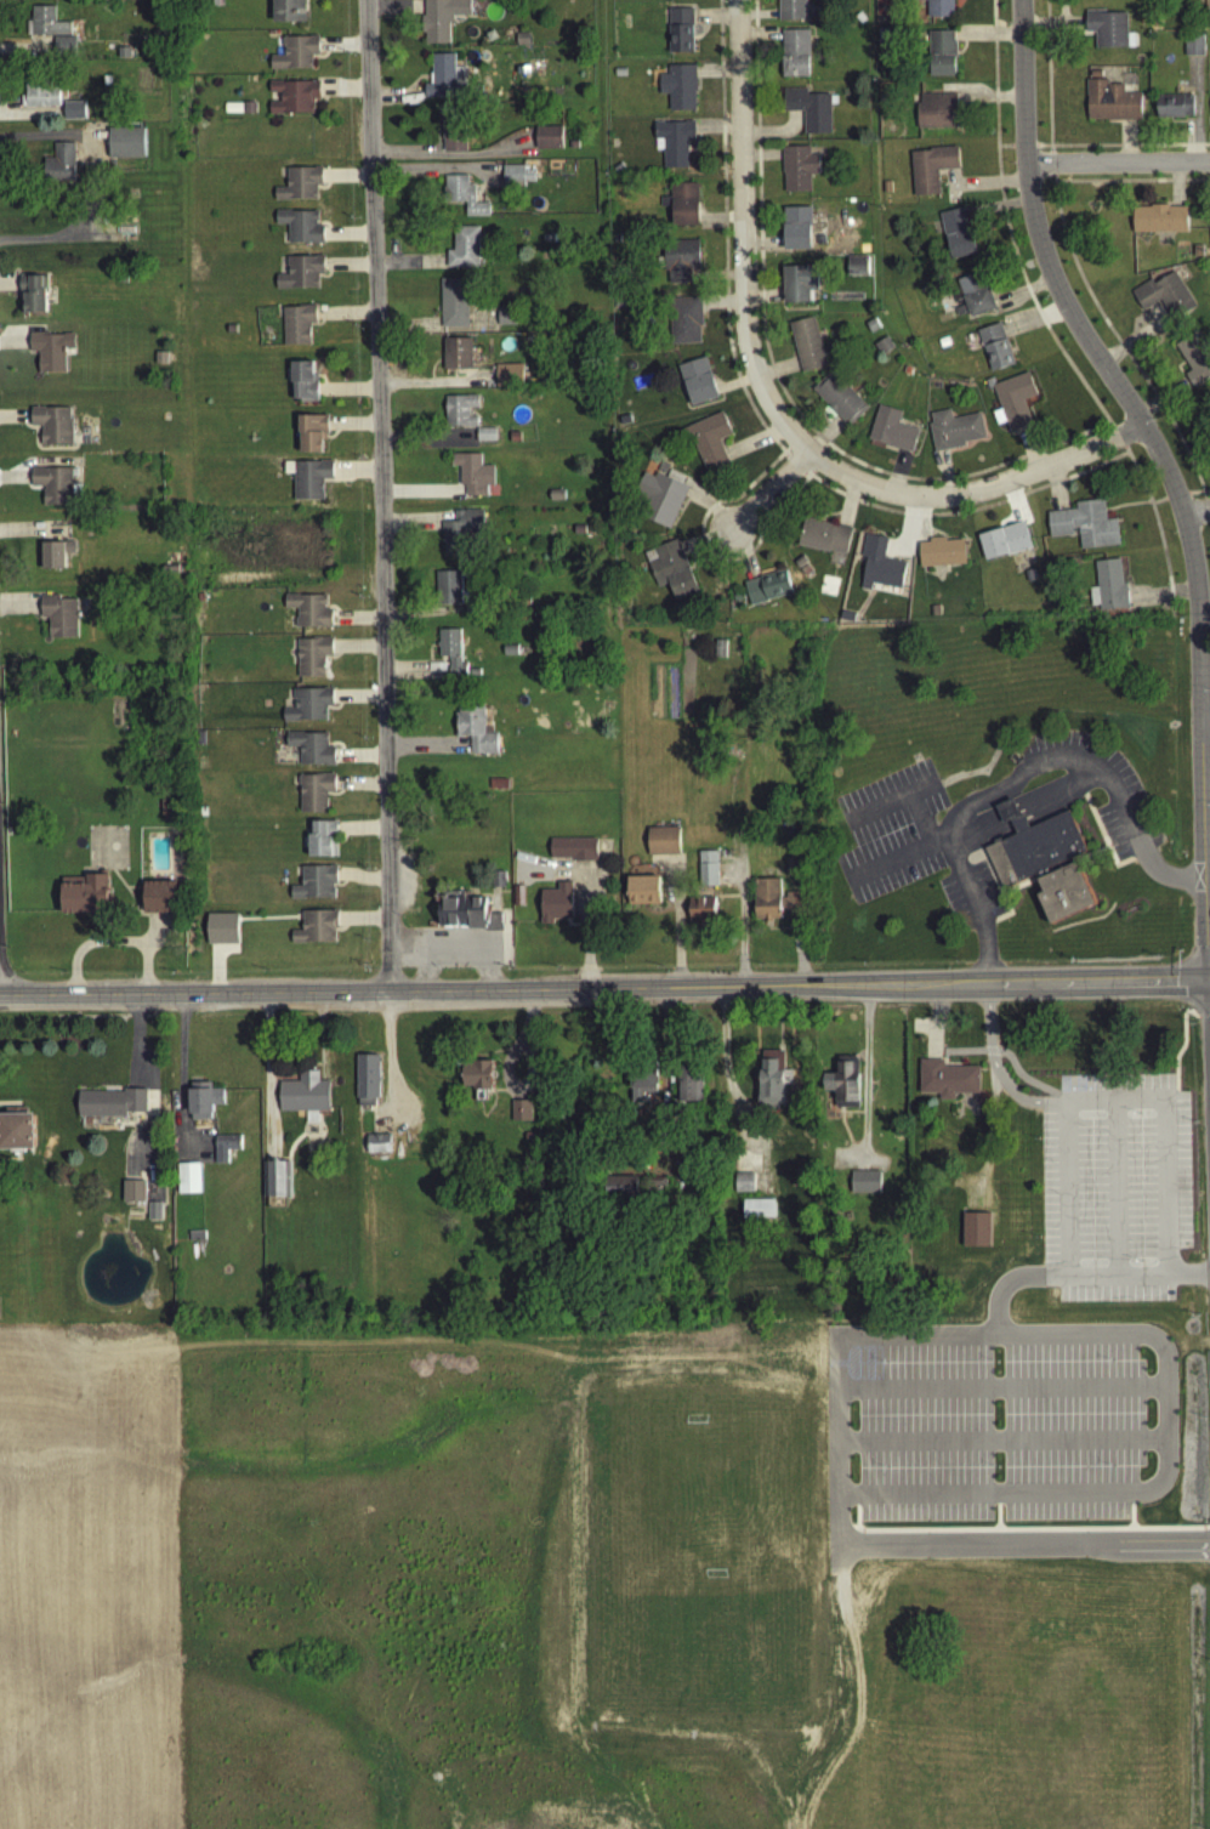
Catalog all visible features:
building: (678, 0)
building: (215, 6)
road: (305, 7)
building: (937, 10)
road: (393, 12)
building: (791, 12)
building: (288, 13)
building: (516, 15)
road: (759, 19)
road: (472, 21)
road: (715, 21)
road: (464, 22)
building: (52, 23)
road: (401, 23)
road: (421, 23)
building: (439, 23)
building: (858, 23)
road: (411, 29)
road: (1052, 29)
building: (1106, 33)
building: (680, 35)
road: (760, 39)
building: (881, 40)
road: (987, 41)
building: (521, 45)
road: (342, 49)
building: (63, 50)
building: (1192, 50)
building: (295, 58)
building: (794, 58)
building: (941, 58)
road: (323, 61)
road: (716, 76)
building: (618, 78)
road: (1046, 79)
building: (1093, 79)
building: (443, 84)
road: (414, 86)
building: (42, 92)
building: (678, 92)
road: (342, 95)
road: (396, 101)
building: (292, 102)
road: (988, 102)
road: (322, 104)
road: (1195, 104)
building: (76, 107)
building: (1109, 107)
building: (1172, 110)
building: (232, 113)
building: (249, 113)
building: (808, 114)
building: (73, 115)
building: (936, 115)
road: (716, 132)
building: (451, 134)
building: (129, 138)
road: (773, 140)
building: (547, 142)
road: (1187, 143)
road: (436, 144)
road: (1124, 146)
building: (674, 147)
building: (572, 149)
road: (1004, 150)
road: (1022, 150)
road: (1041, 150)
road: (1129, 150)
street lamp: (1084, 157)
building: (63, 159)
road: (453, 160)
road: (760, 160)
road: (1051, 167)
road: (1115, 167)
road: (436, 172)
building: (796, 174)
building: (931, 174)
road: (345, 181)
building: (516, 181)
road: (1130, 186)
building: (299, 188)
road: (981, 188)
road: (1175, 189)
building: (885, 192)
building: (461, 200)
building: (683, 209)
road: (998, 211)
road: (720, 223)
building: (1158, 225)
road: (1004, 227)
building: (300, 231)
road: (759, 231)
building: (796, 234)
road: (723, 235)
road: (346, 237)
road: (742, 238)
building: (956, 238)
building: (818, 245)
road: (762, 249)
building: (462, 255)
building: (1195, 256)
building: (678, 265)
road: (408, 267)
road: (347, 269)
building: (856, 272)
building: (300, 277)
road: (716, 282)
building: (797, 288)
building: (35, 290)
road: (1023, 295)
building: (975, 300)
road: (1086, 300)
road: (762, 301)
building: (1163, 301)
building: (453, 308)
road: (721, 308)
road: (343, 318)
building: (506, 322)
road: (1034, 323)
building: (681, 324)
building: (296, 330)
building: (871, 330)
road: (442, 335)
road: (1136, 340)
building: (51, 347)
building: (942, 347)
building: (805, 350)
building: (881, 351)
building: (994, 352)
building: (456, 358)
building: (1194, 363)
road: (774, 373)
building: (507, 380)
road: (434, 386)
building: (697, 386)
building: (302, 387)
road: (734, 388)
road: (346, 394)
building: (837, 403)
road: (1163, 403)
building: (1013, 404)
building: (458, 415)
road: (1136, 416)
building: (56, 420)
road: (351, 428)
building: (891, 434)
building: (953, 434)
building: (311, 437)
building: (484, 439)
road: (820, 442)
road: (426, 443)
building: (513, 443)
road: (1117, 443)
building: (706, 445)
road: (752, 445)
road: (1181, 451)
road: (1029, 453)
road: (828, 455)
road: (376, 460)
road: (783, 461)
road: (818, 467)
road: (793, 472)
road: (353, 476)
road: (896, 476)
building: (471, 478)
road: (945, 478)
road: (809, 479)
road: (966, 481)
road: (1135, 481)
building: (57, 482)
building: (308, 484)
road: (1055, 492)
road: (975, 496)
road: (420, 498)
road: (766, 498)
road: (1205, 498)
road: (1197, 499)
building: (556, 500)
road: (1175, 501)
road: (693, 502)
building: (657, 504)
road: (700, 504)
road: (1012, 506)
road: (846, 509)
road: (1125, 511)
road: (964, 517)
road: (1197, 517)
road: (1206, 517)
road: (921, 526)
road: (415, 527)
building: (1083, 530)
building: (578, 534)
road: (904, 535)
building: (462, 539)
building: (823, 541)
road: (704, 544)
building: (1004, 546)
road: (1159, 546)
building: (57, 550)
road: (709, 552)
building: (939, 557)
road: (742, 558)
building: (799, 566)
building: (879, 569)
building: (671, 575)
building: (1109, 591)
building: (766, 592)
building: (447, 593)
road: (1161, 601)
building: (737, 602)
building: (198, 603)
building: (62, 610)
building: (308, 615)
building: (472, 615)
road: (421, 617)
road: (354, 623)
road: (356, 653)
building: (507, 655)
building: (450, 657)
building: (311, 661)
building: (434, 672)
road: (411, 674)
building: (473, 677)
road: (357, 703)
road: (1209, 709)
building: (307, 710)
road: (1204, 711)
road: (1205, 729)
building: (473, 734)
road: (454, 742)
building: (198, 743)
road: (425, 750)
building: (311, 754)
road: (358, 761)
road: (1106, 784)
parking lot: (1096, 786)
road: (358, 789)
building: (496, 789)
building: (313, 796)
road: (892, 797)
road: (1081, 799)
road: (1023, 803)
road: (1027, 810)
road: (1029, 814)
road: (920, 817)
road: (1017, 828)
road: (1096, 831)
road: (360, 833)
parking lot: (888, 836)
building: (322, 845)
building: (661, 846)
road: (1103, 846)
road: (996, 847)
road: (902, 853)
building: (573, 854)
road: (956, 856)
road: (1090, 859)
road: (985, 865)
parking lot: (601, 870)
building: (1044, 870)
building: (790, 873)
parking lot: (528, 874)
building: (706, 874)
road: (1208, 874)
road: (644, 875)
road: (600, 877)
road: (567, 881)
road: (1169, 881)
road: (360, 882)
parking lot: (402, 884)
building: (500, 885)
building: (314, 888)
road: (341, 888)
road: (424, 891)
road: (790, 892)
road: (134, 893)
road: (461, 894)
road: (791, 894)
building: (642, 896)
road: (666, 896)
road: (704, 897)
parking lot: (968, 899)
building: (85, 901)
building: (159, 902)
road: (721, 902)
road: (1001, 902)
road: (132, 905)
parking lot: (493, 905)
building: (777, 907)
building: (555, 908)
road: (1205, 910)
building: (699, 915)
building: (465, 916)
road: (675, 921)
road: (362, 922)
road: (740, 922)
road: (268, 924)
road: (144, 926)
road: (129, 928)
road: (573, 930)
road: (586, 930)
road: (341, 932)
building: (314, 933)
road: (777, 933)
building: (221, 935)
road: (159, 938)
road: (387, 943)
road: (455, 943)
road: (114, 945)
parking lot: (456, 952)
road: (226, 956)
road: (800, 956)
road: (398, 965)
road: (417, 965)
road: (460, 965)
road: (426, 970)
road: (214, 975)
road: (387, 981)
road: (1085, 983)
road: (422, 985)
road: (489, 985)
road: (691, 993)
road: (403, 998)
road: (193, 1000)
road: (937, 1010)
road: (1202, 1022)
parking lot: (918, 1032)
road: (317, 1043)
road: (932, 1045)
road: (989, 1045)
road: (1182, 1051)
road: (386, 1057)
road: (309, 1069)
road: (728, 1069)
road: (135, 1070)
road: (869, 1074)
building: (477, 1079)
road: (267, 1083)
road: (1023, 1083)
road: (180, 1084)
road: (184, 1084)
road: (194, 1084)
building: (365, 1084)
building: (772, 1084)
building: (947, 1085)
building: (689, 1087)
building: (843, 1087)
building: (642, 1089)
road: (118, 1092)
building: (302, 1098)
road: (1011, 1100)
road: (149, 1102)
building: (203, 1104)
road: (10, 1108)
building: (110, 1108)
building: (519, 1115)
street lamp: (1136, 1119)
road: (373, 1125)
road: (198, 1132)
building: (17, 1135)
road: (1164, 1142)
building: (377, 1148)
road: (988, 1149)
building: (225, 1152)
road: (198, 1154)
road: (135, 1155)
building: (188, 1183)
building: (275, 1185)
building: (654, 1187)
building: (744, 1187)
building: (864, 1187)
building: (620, 1191)
parking lot: (1113, 1192)
road: (1115, 1194)
building: (132, 1195)
road: (1063, 1195)
building: (757, 1214)
building: (154, 1216)
building: (975, 1234)
building: (195, 1242)
street lamp: (1141, 1267)
road: (1195, 1278)
road: (1144, 1279)
road: (1175, 1279)
road: (1093, 1280)
road: (973, 1340)
street lamp: (1112, 1367)
street lamp: (995, 1368)
street lamp: (886, 1369)
road: (1075, 1392)
road: (879, 1420)
road: (914, 1420)
road: (984, 1420)
parking lot: (1001, 1427)
road: (1075, 1445)
street lamp: (1112, 1472)
street lamp: (886, 1473)
street lamp: (995, 1475)
road: (1154, 1495)
road: (996, 1505)
road: (1130, 1528)
road: (996, 1529)
road: (854, 1532)
road: (867, 1533)
road: (1209, 1533)
road: (1032, 1535)
road: (1148, 1547)
road: (857, 1551)
park: (695, 1553)
road: (853, 1697)

